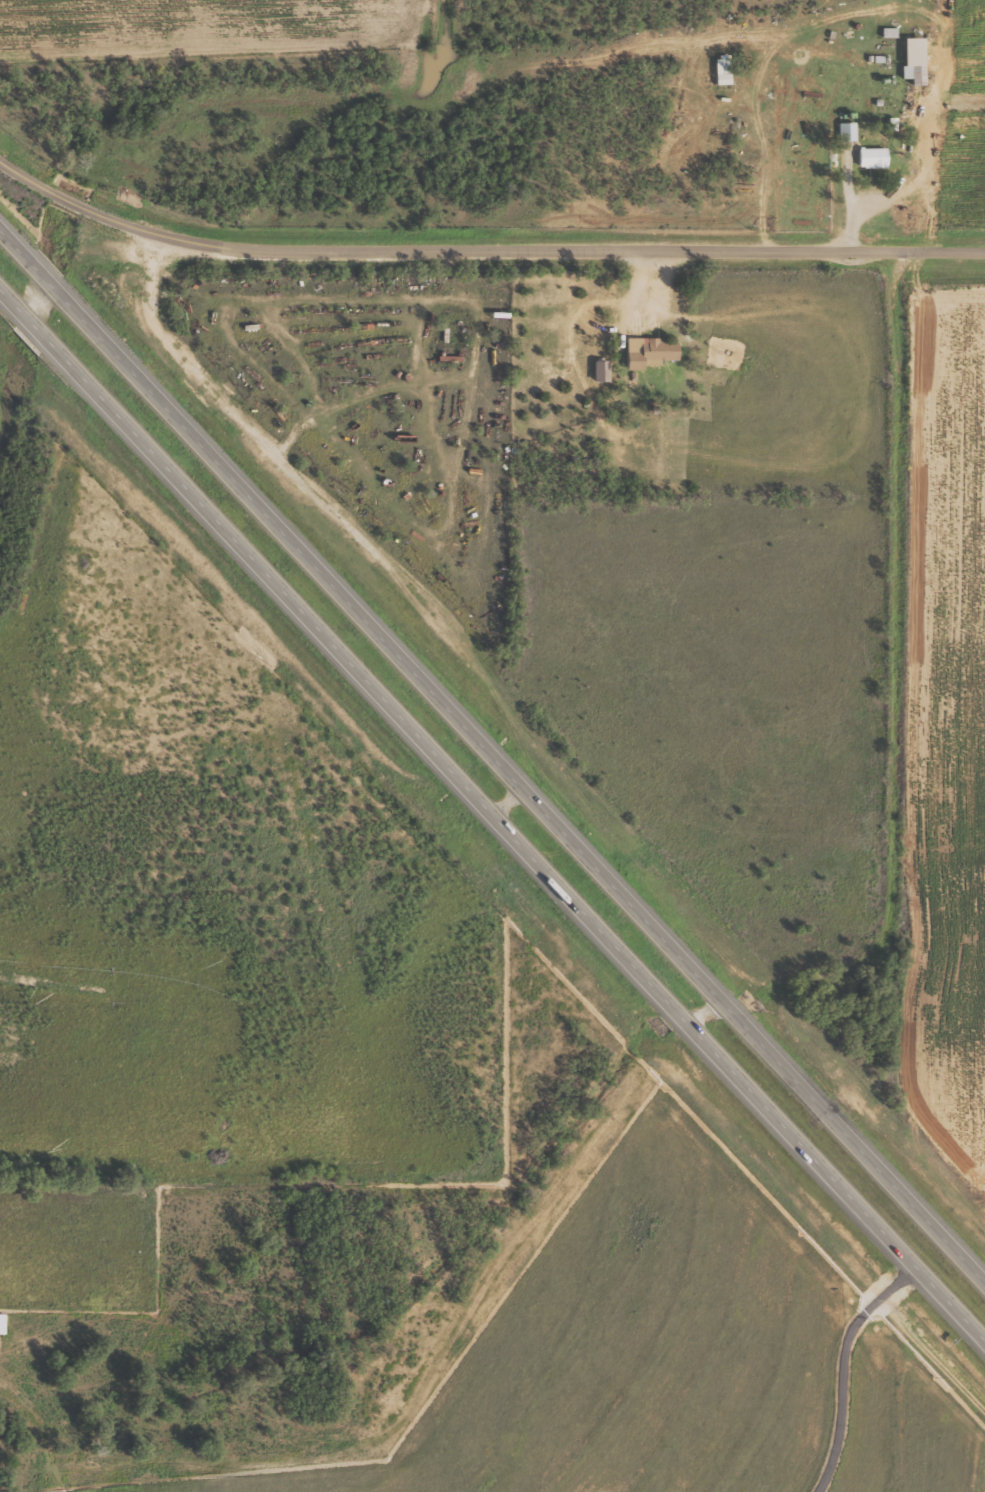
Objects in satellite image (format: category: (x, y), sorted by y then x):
building: (893, 32)
building: (920, 61)
building: (728, 71)
building: (897, 124)
building: (852, 132)
building: (878, 158)
road: (483, 251)
building: (652, 350)
building: (606, 369)
road: (487, 754)
road: (495, 809)
road: (905, 1281)
building: (4, 1323)
road: (938, 1343)
road: (846, 1386)

